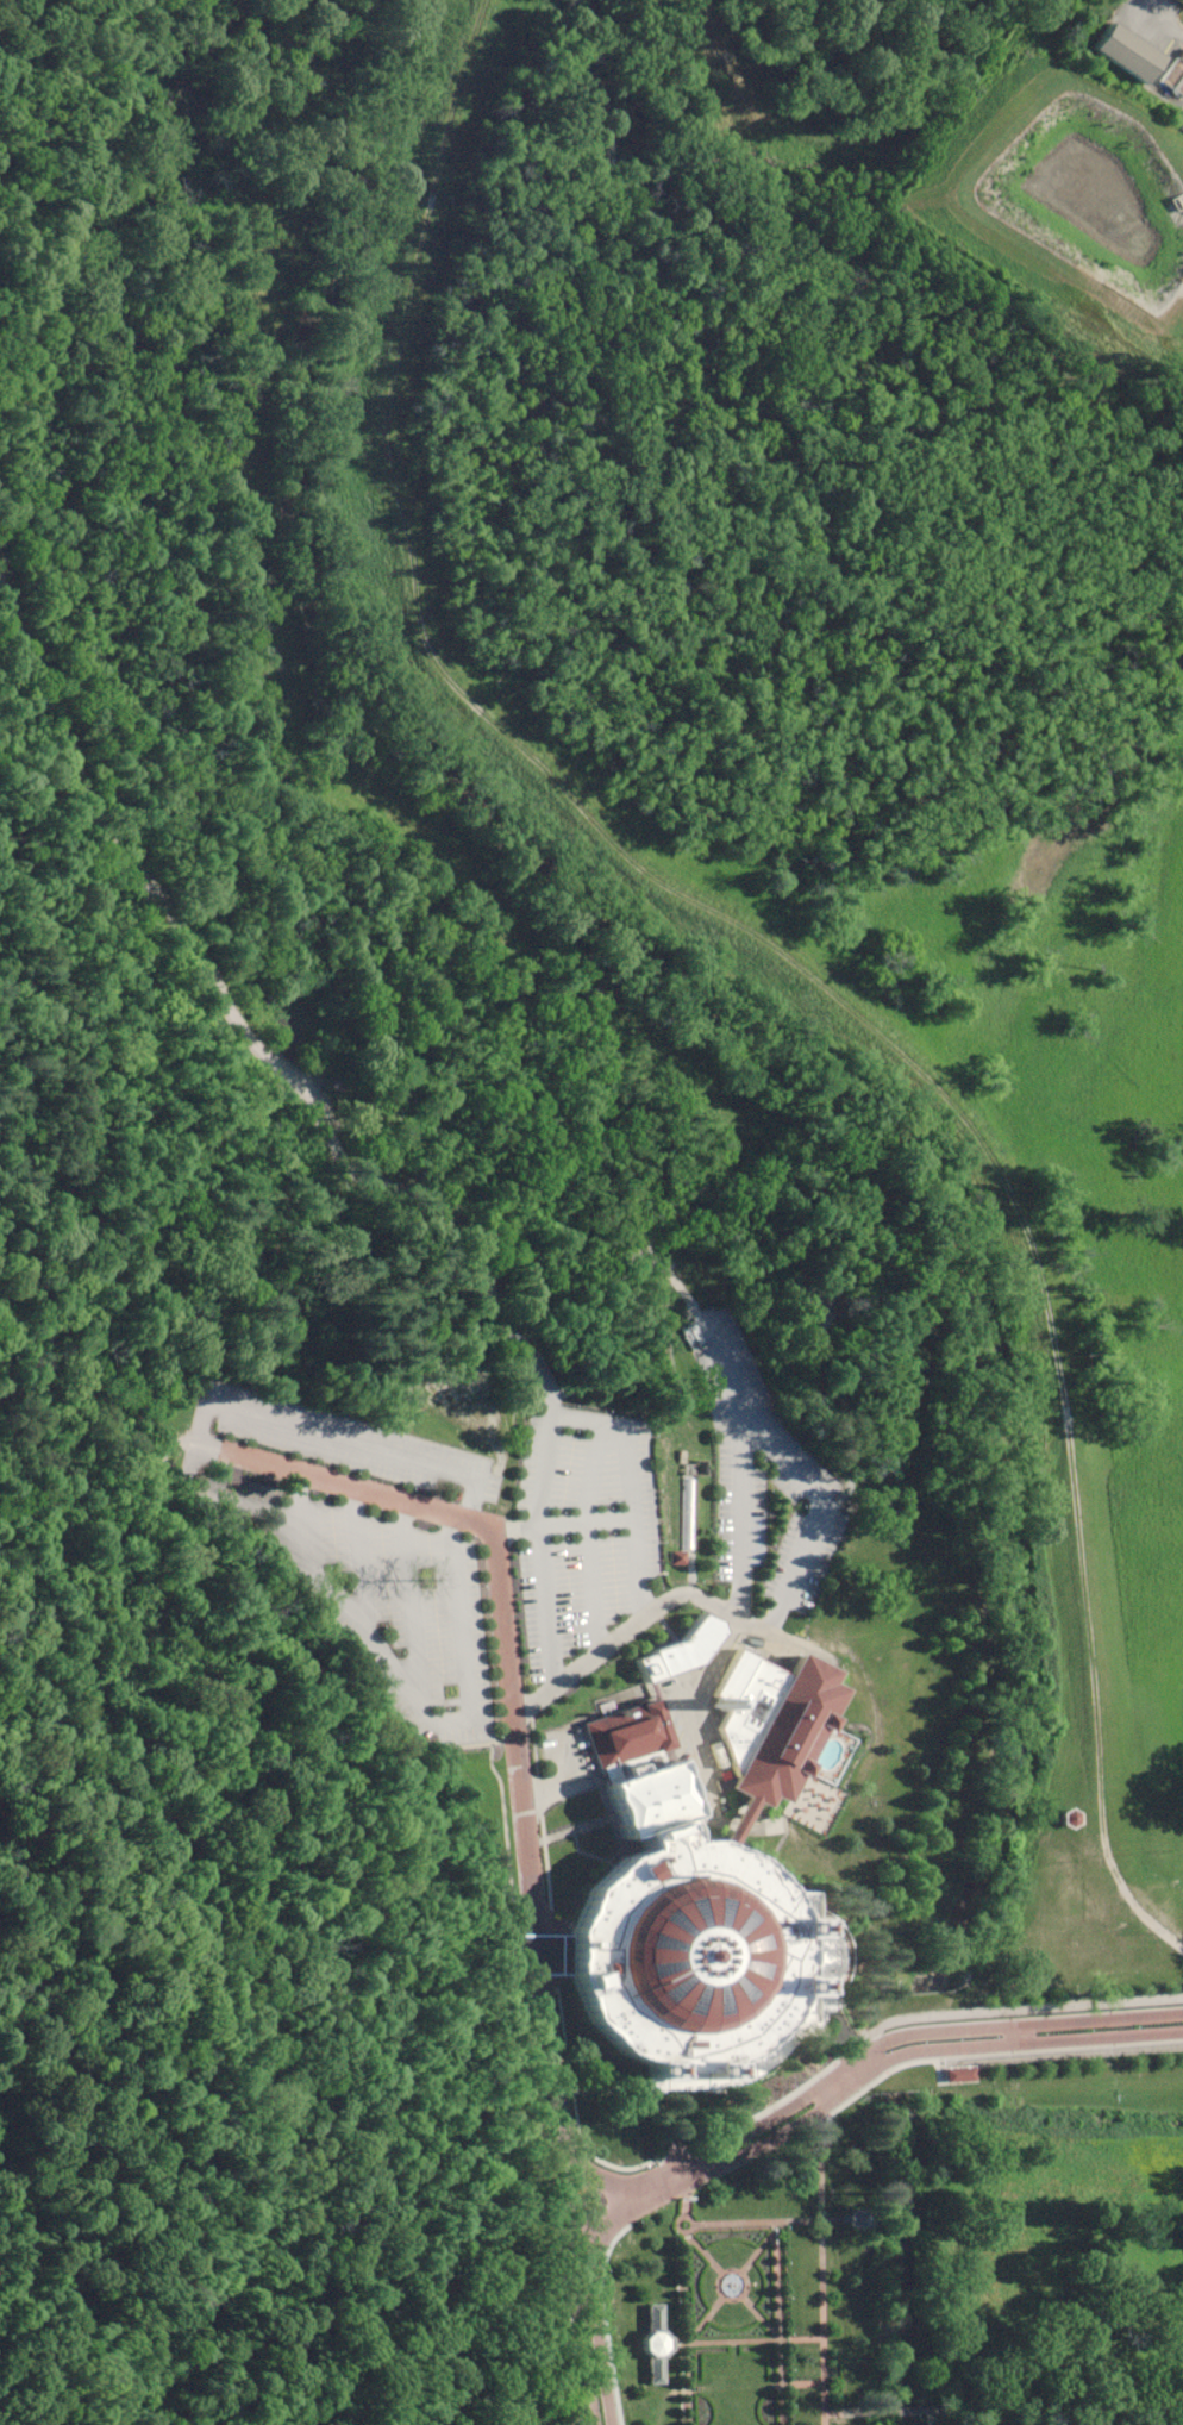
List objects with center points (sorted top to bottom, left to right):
building: (1141, 58)
road: (312, 1102)
river: (800, 1139)
parking lot: (517, 1524)
building: (603, 1705)
building: (787, 1732)
building: (805, 1910)
road: (540, 1915)
building: (686, 1915)
building: (807, 1969)
road: (859, 2063)
railway: (1135, 2070)
building: (862, 2218)
road: (756, 2221)
road: (757, 2252)
road: (827, 2254)
road: (703, 2260)
road: (716, 2287)
road: (687, 2296)
road: (762, 2319)
road: (780, 2323)
road: (706, 2324)
road: (593, 2332)
road: (759, 2340)
building: (657, 2356)

